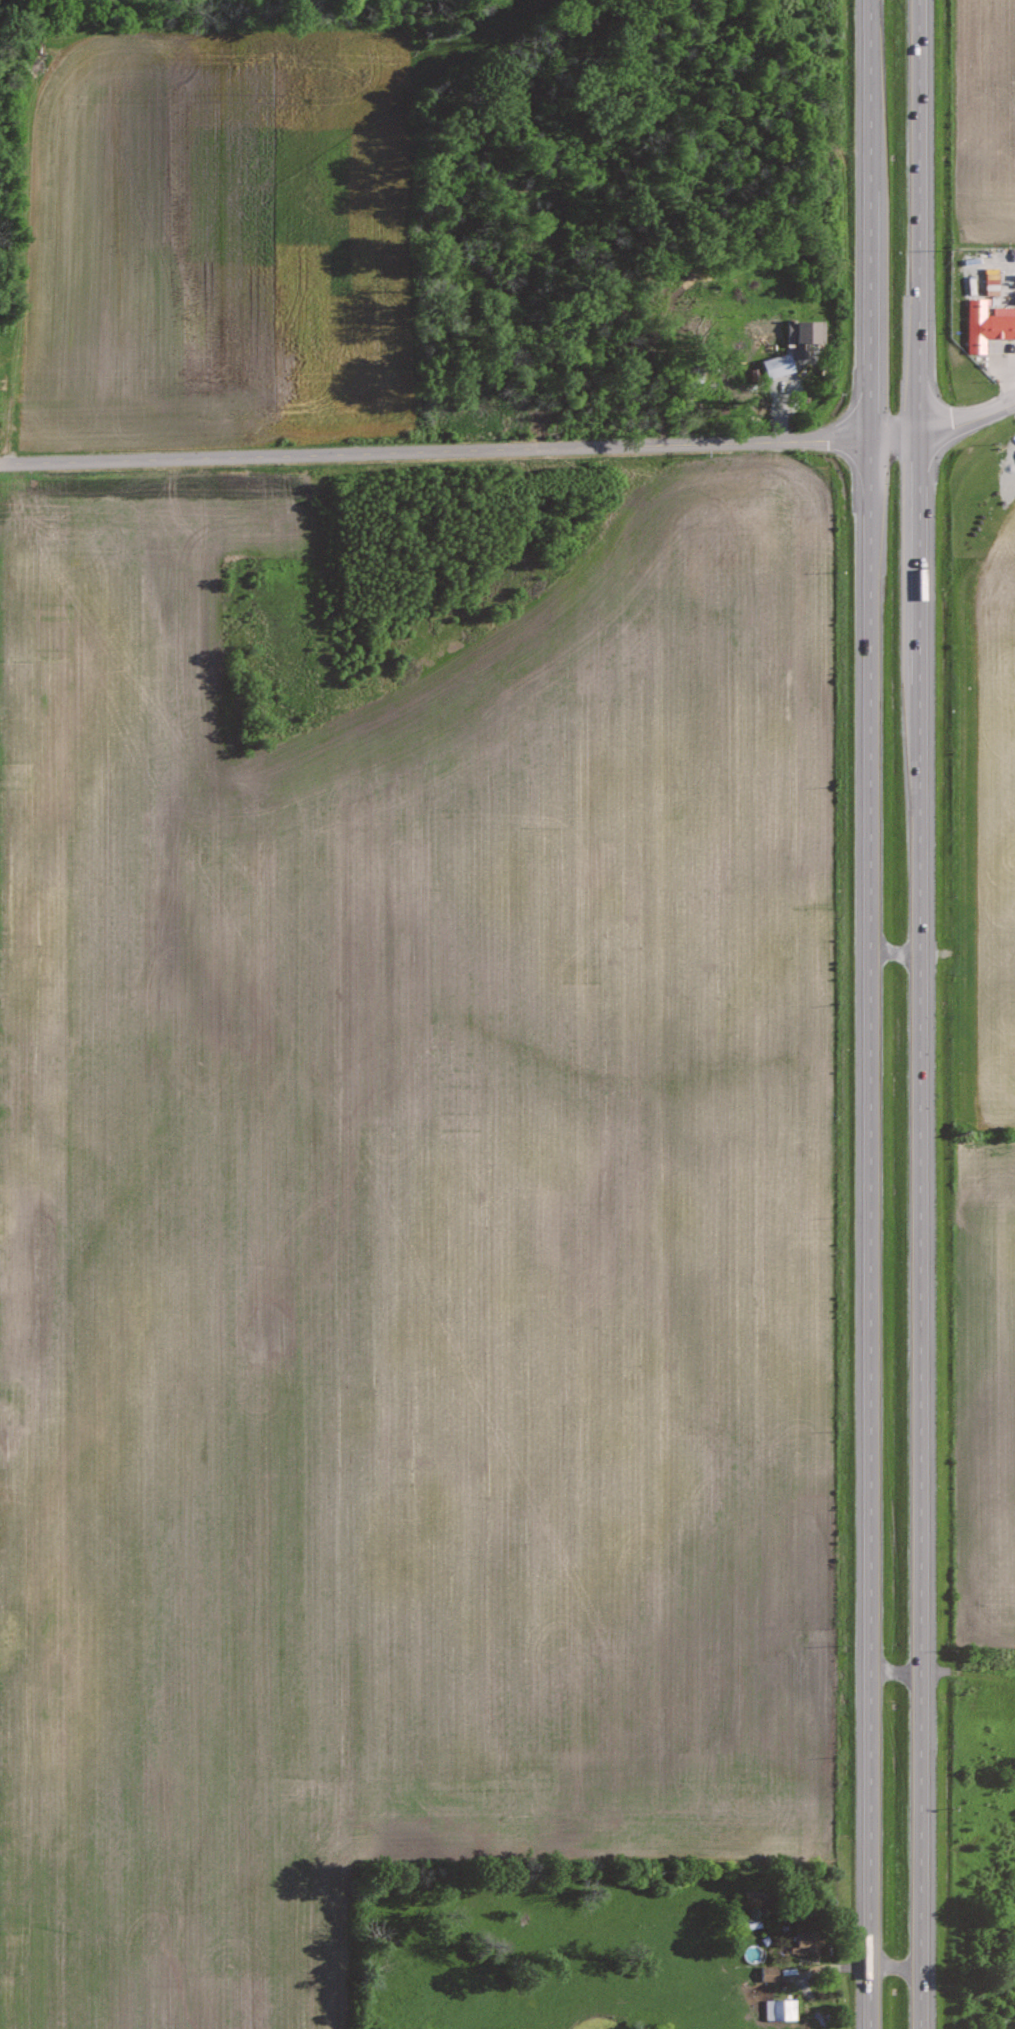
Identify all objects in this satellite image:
building: (991, 283)
building: (987, 323)
building: (805, 334)
building: (778, 364)
road: (943, 427)
road: (434, 450)
road: (894, 952)
road: (869, 1014)
road: (919, 1014)
building: (806, 1942)
building: (769, 1972)
building: (773, 2008)

